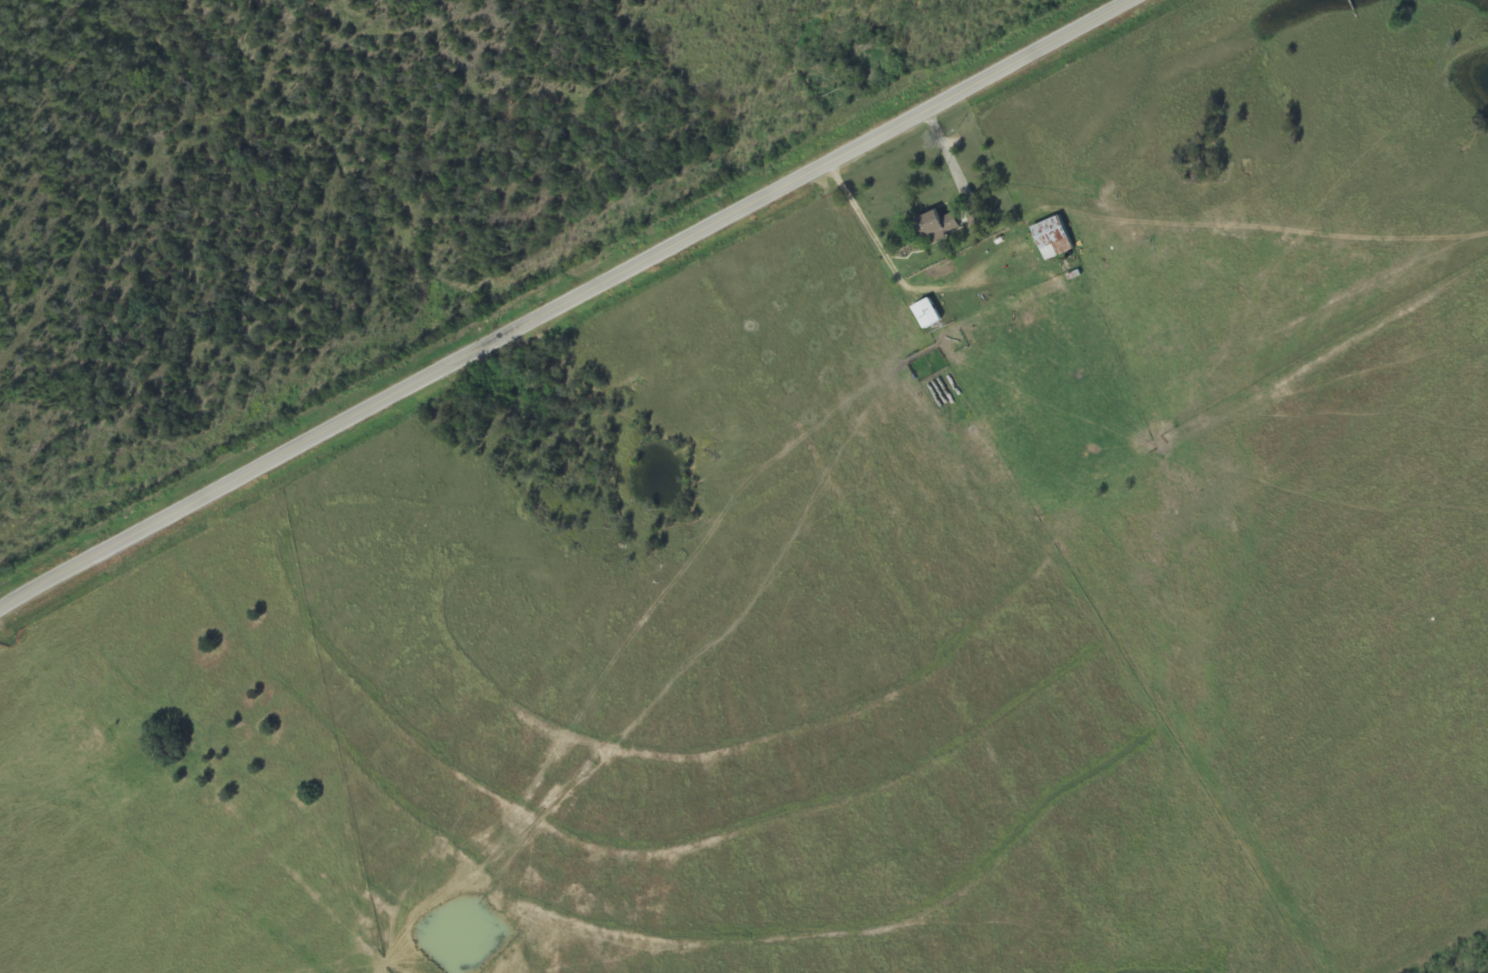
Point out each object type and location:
building: (1050, 238)
road: (568, 306)
building: (924, 315)

